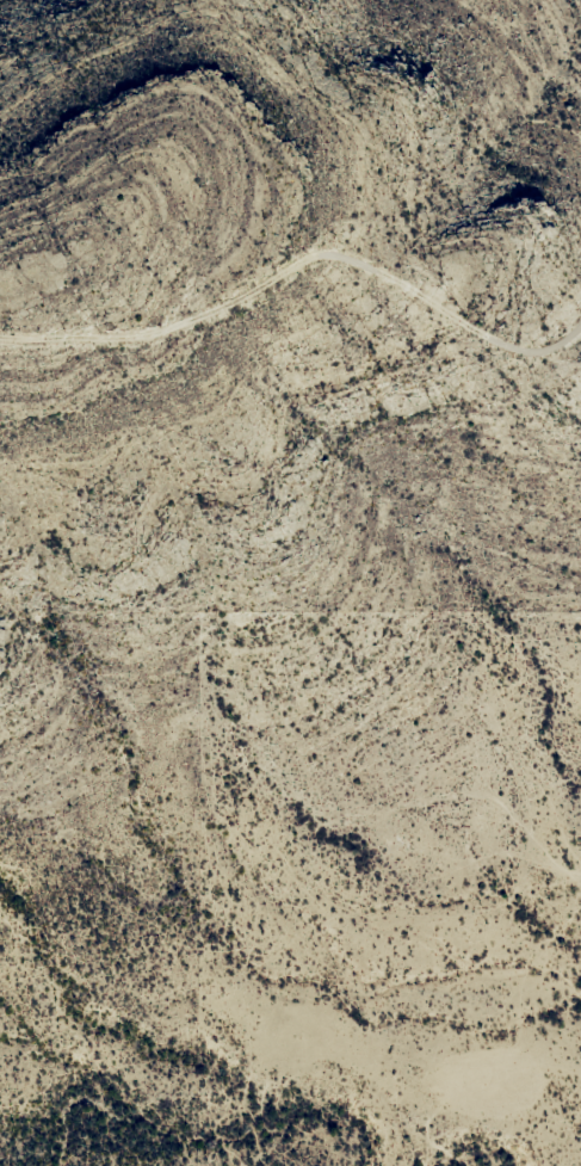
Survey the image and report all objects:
road: (301, 263)

